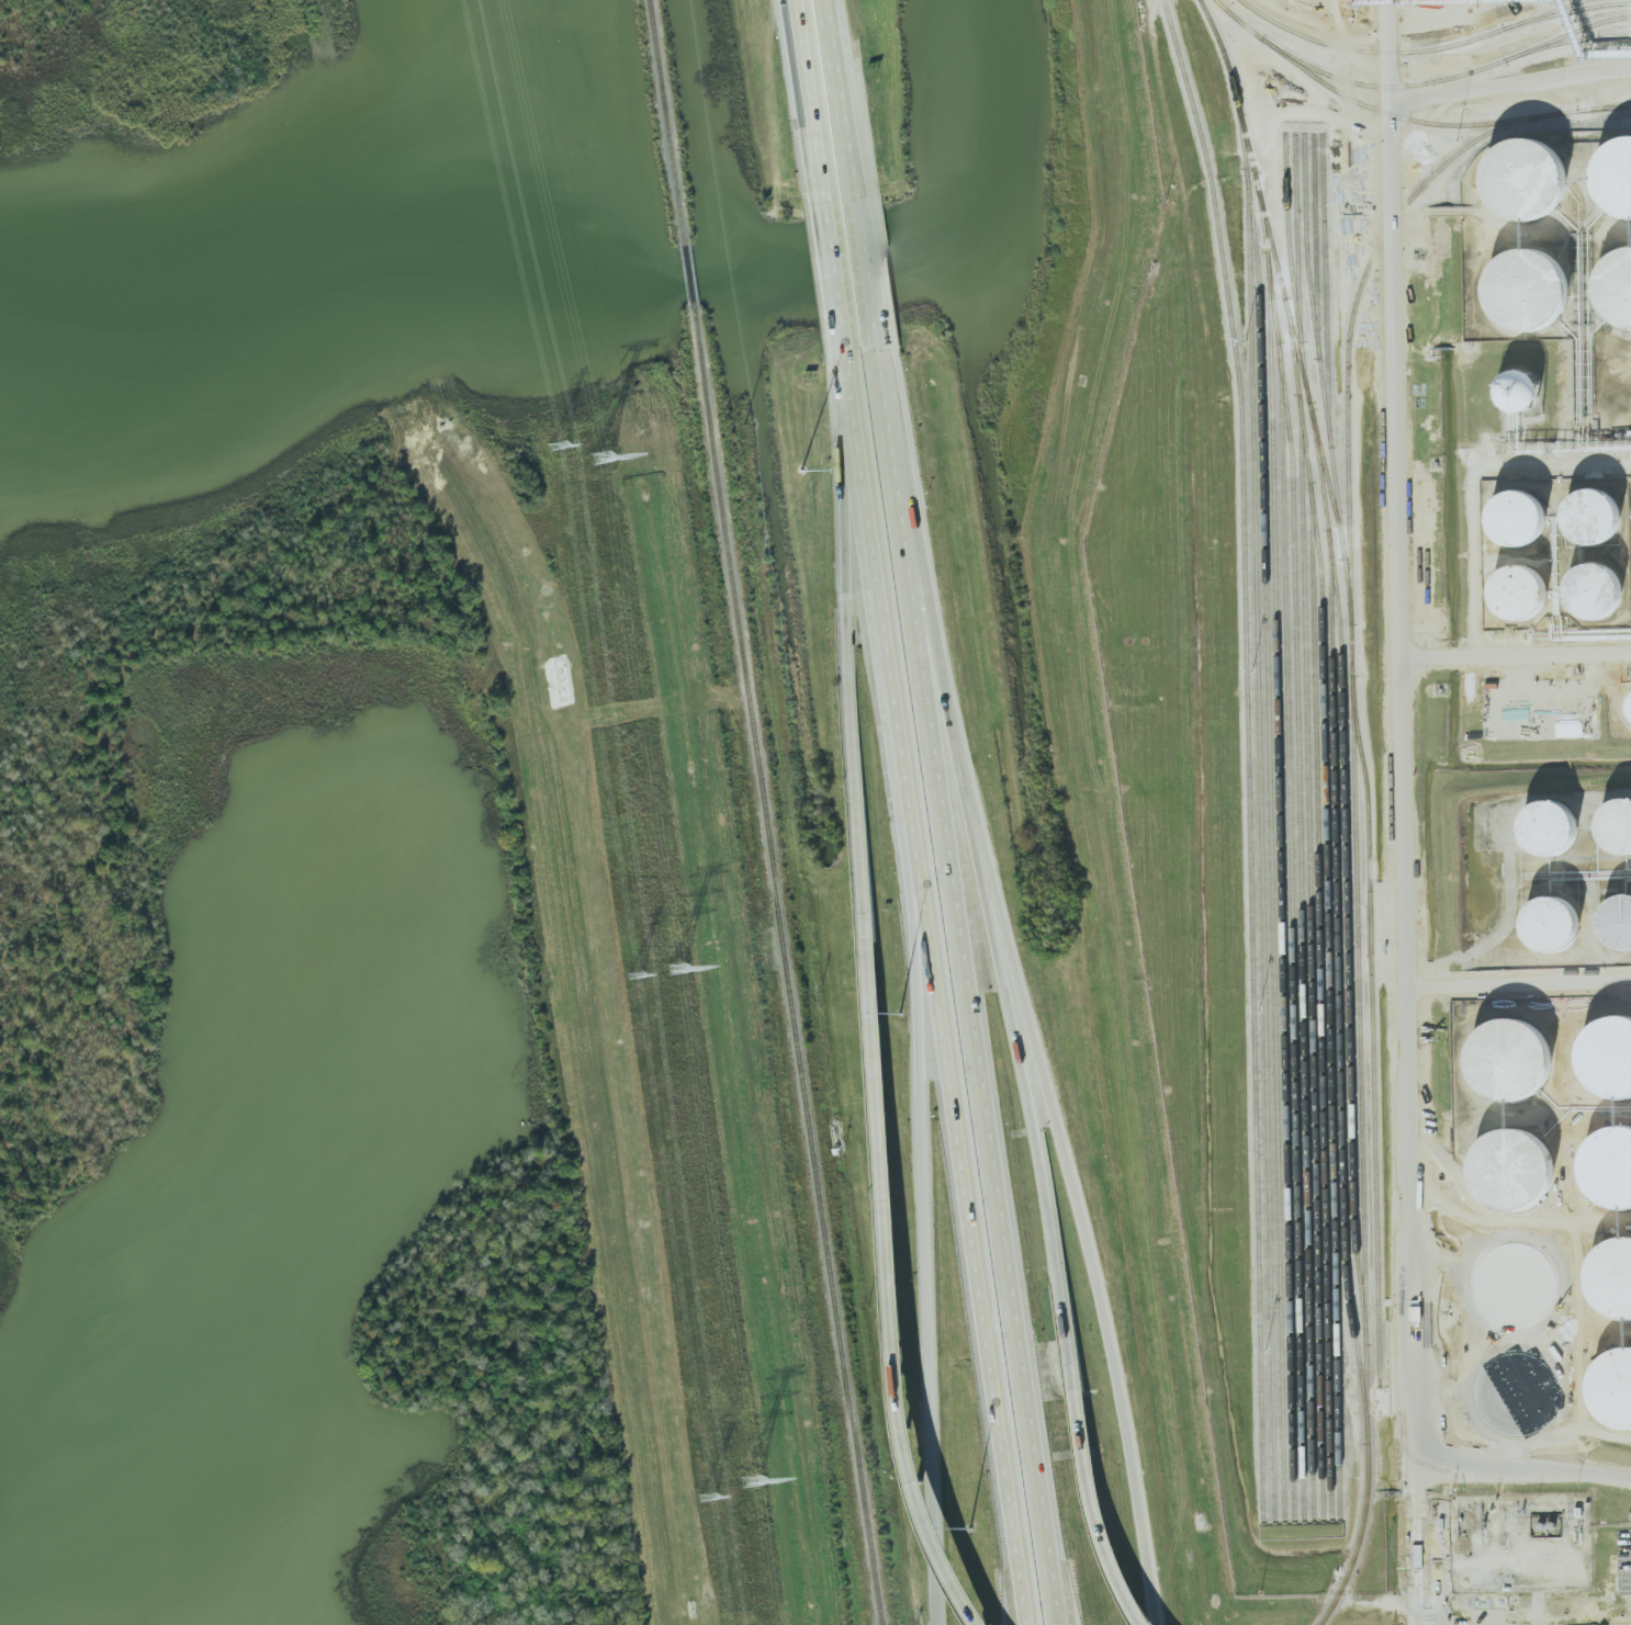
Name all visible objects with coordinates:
railway: (1566, 12)
railway: (1567, 34)
railway: (1567, 41)
railway: (1410, 52)
road: (1509, 83)
railway: (1380, 87)
road: (854, 93)
railway: (1461, 93)
road: (811, 97)
railway: (1596, 108)
railway: (1604, 108)
railway: (1372, 109)
railway: (665, 122)
railway: (1398, 151)
building: (1613, 174)
storage tank: (1613, 174)
building: (1529, 176)
storage tank: (1529, 176)
railway: (1289, 236)
railway: (1306, 242)
railway: (1297, 266)
road: (879, 273)
road: (836, 278)
railway: (688, 280)
railway: (1316, 287)
building: (1617, 289)
storage tank: (1617, 289)
building: (1527, 292)
storage tank: (1527, 292)
railway: (1287, 308)
railway: (1352, 315)
railway: (1326, 343)
building: (1528, 381)
storage tank: (1528, 381)
road: (853, 386)
power tower: (558, 447)
power tower: (603, 458)
road: (1471, 487)
building: (1527, 507)
storage tank: (1527, 507)
building: (1602, 509)
storage tank: (1602, 509)
road: (854, 545)
building: (1605, 582)
storage tank: (1605, 582)
building: (1529, 583)
storage tank: (1529, 583)
road: (1516, 661)
building: (1630, 702)
storage tank: (1630, 702)
railway: (1248, 757)
railway: (1270, 803)
building: (1556, 815)
storage tank: (1556, 815)
building: (1620, 816)
storage tank: (1620, 816)
road: (856, 823)
road: (1406, 825)
railway: (1261, 844)
railway: (1301, 845)
railway: (1346, 876)
railway: (1282, 887)
railway: (1328, 907)
building: (1621, 913)
storage tank: (1621, 913)
building: (1565, 914)
storage tank: (1565, 914)
railway: (1290, 932)
road: (978, 959)
railway: (1312, 967)
power tower: (677, 969)
railway: (786, 971)
power tower: (633, 977)
road: (1520, 979)
railway: (1339, 986)
road: (937, 989)
railway: (1320, 1001)
railway: (1373, 1030)
railway: (1359, 1034)
building: (1607, 1059)
storage tank: (1607, 1059)
building: (1509, 1061)
storage tank: (1509, 1061)
building: (1608, 1170)
storage tank: (1608, 1170)
building: (1512, 1172)
storage tank: (1512, 1172)
road: (922, 1185)
road: (1077, 1259)
building: (1611, 1279)
storage tank: (1611, 1279)
road: (893, 1304)
building: (1416, 1313)
road: (1067, 1352)
building: (1612, 1389)
storage tank: (1612, 1389)
road: (1418, 1445)
power tower: (750, 1479)
power tower: (707, 1496)
railway: (1359, 1537)
road: (1056, 1593)
road: (1021, 1595)

